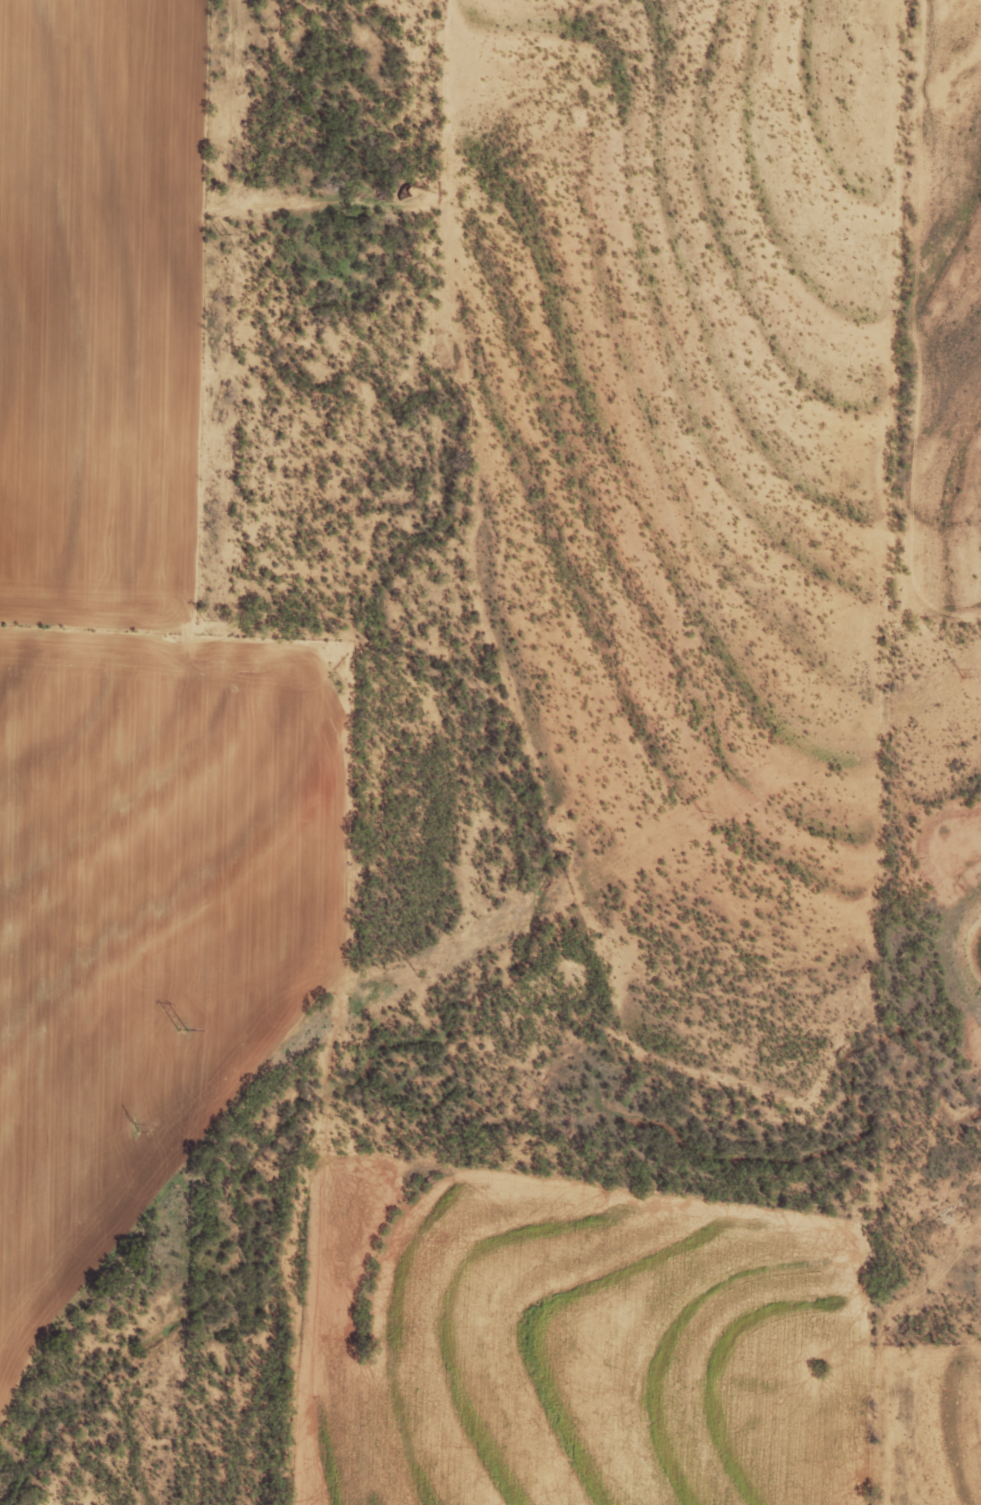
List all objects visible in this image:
power tower: (220, 241)
power tower: (205, 622)
power tower: (960, 674)
power tower: (701, 819)
road: (354, 922)
power tower: (411, 973)
power tower: (182, 1031)
power tower: (137, 1126)
power tower: (152, 1438)

